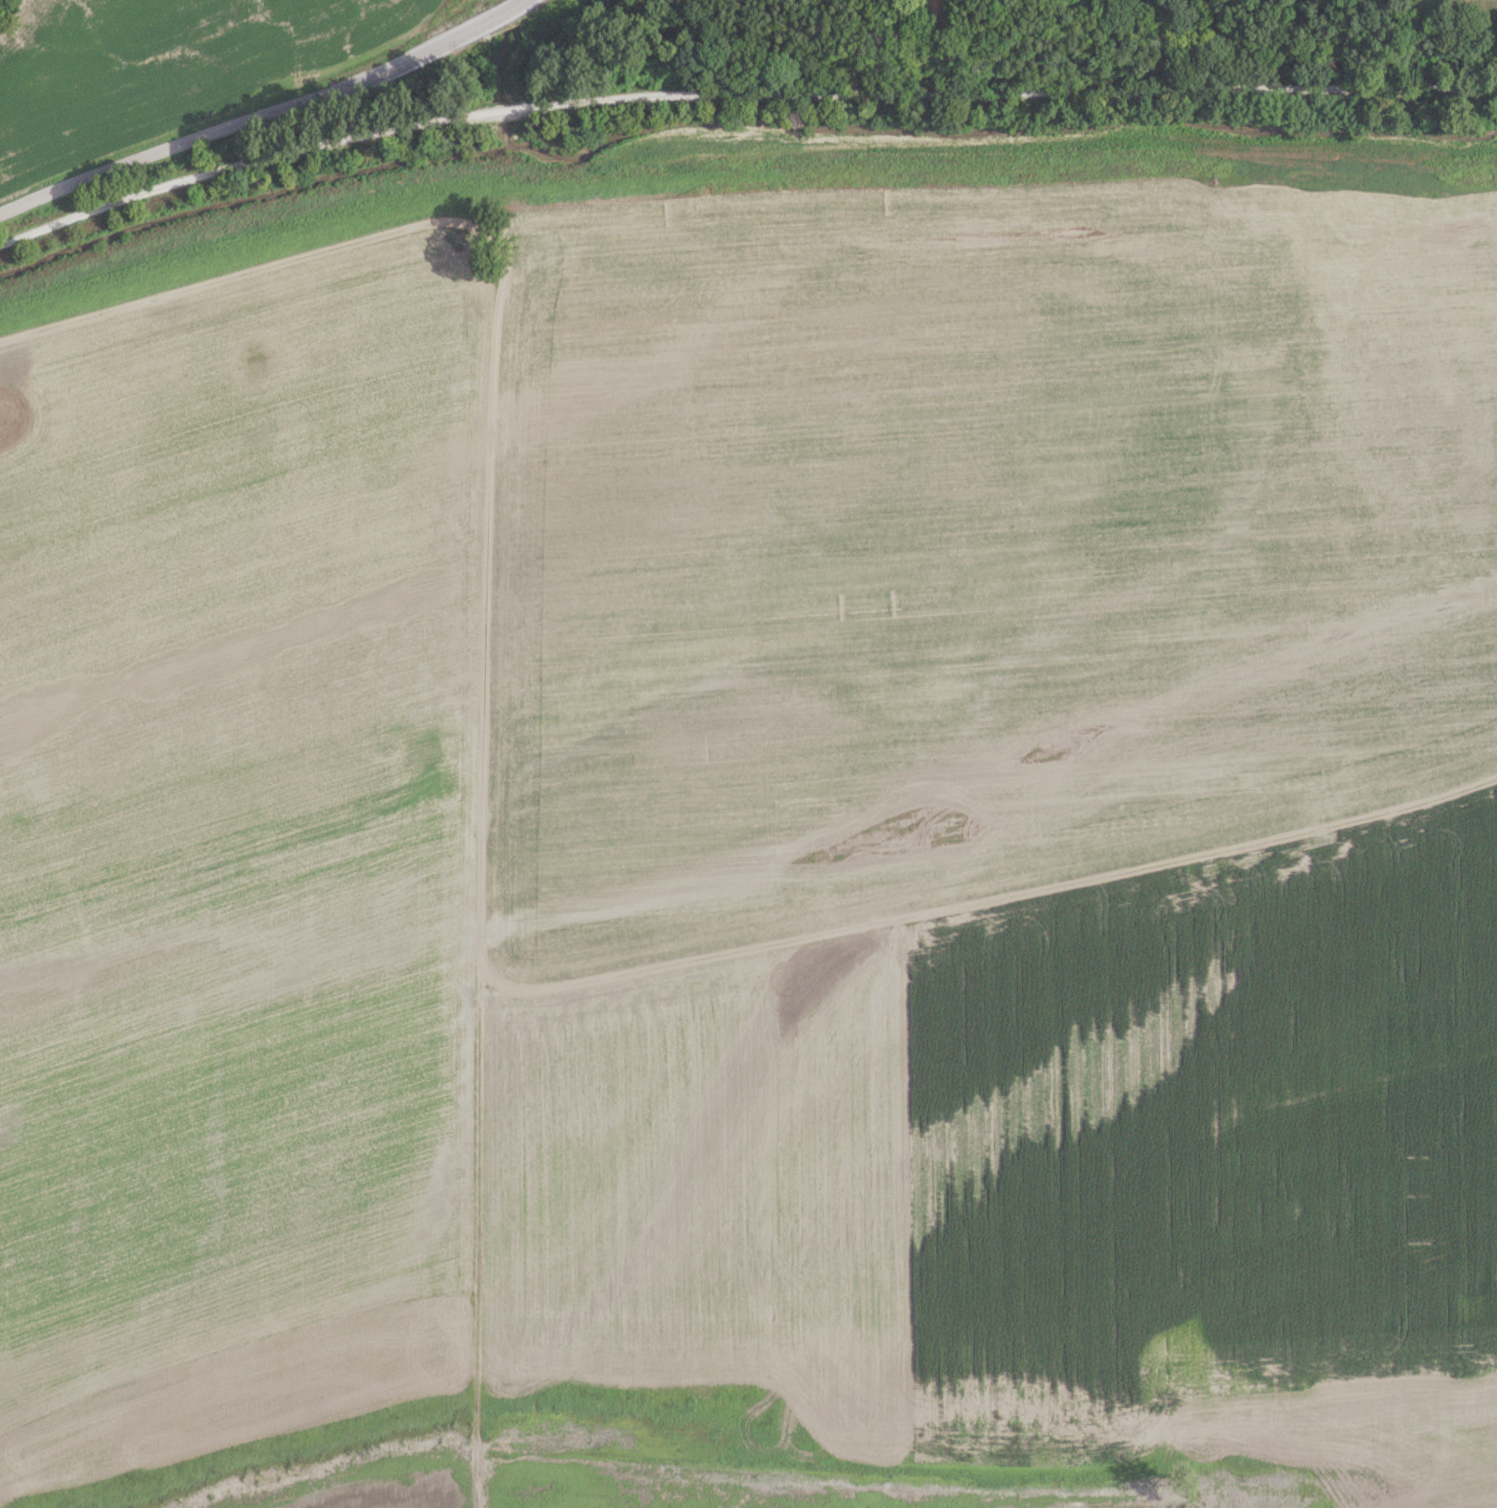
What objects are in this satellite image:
road: (738, 93)
road: (262, 114)

